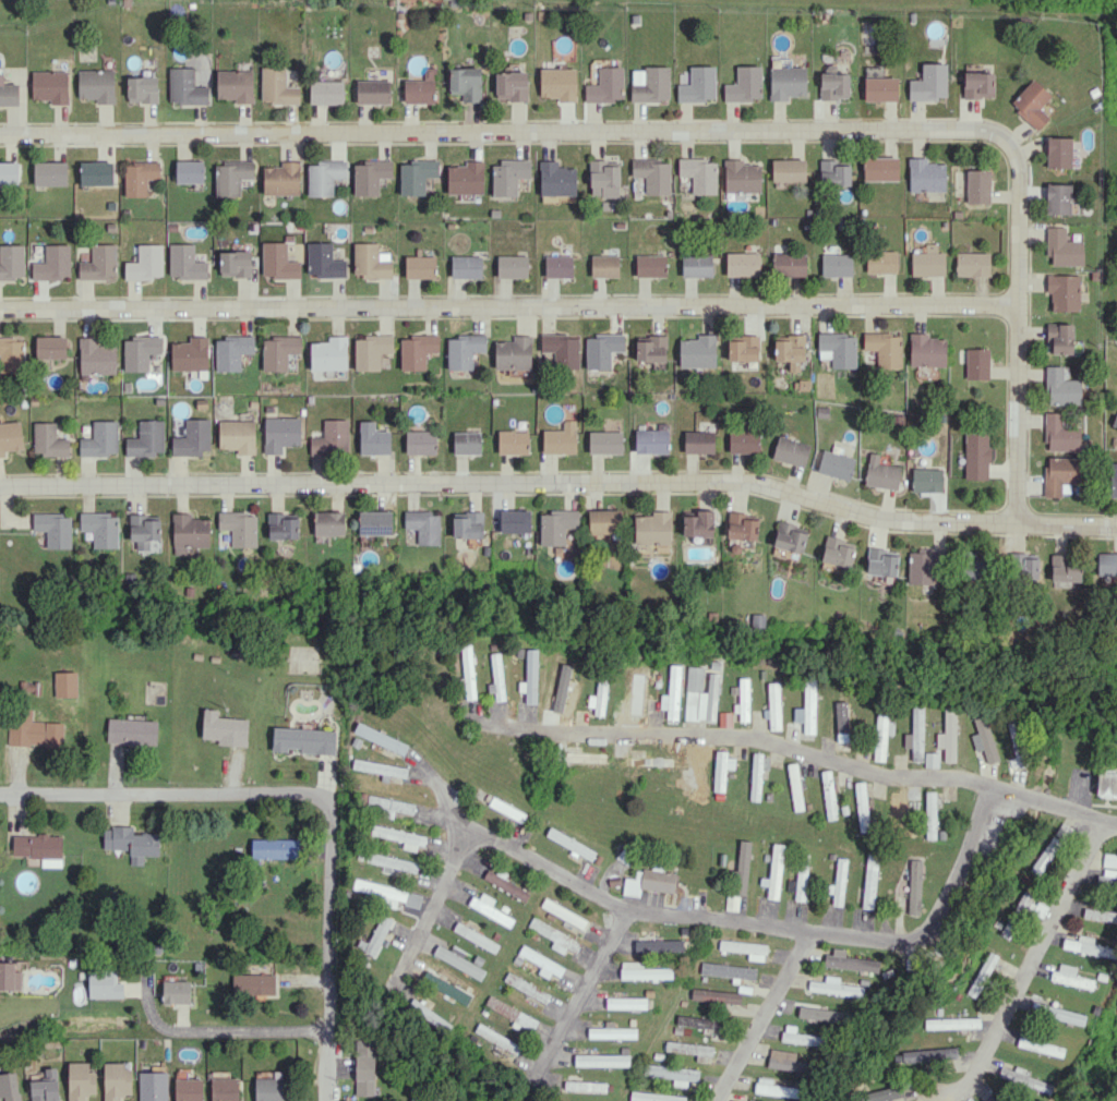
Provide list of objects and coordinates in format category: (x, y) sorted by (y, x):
building: (786, 80)
building: (466, 83)
building: (557, 83)
building: (929, 83)
building: (650, 84)
building: (977, 84)
building: (96, 85)
building: (235, 85)
building: (511, 85)
building: (605, 85)
building: (698, 85)
building: (744, 85)
building: (833, 85)
building: (50, 86)
building: (277, 86)
building: (185, 87)
building: (142, 88)
building: (420, 88)
building: (880, 88)
building: (326, 92)
building: (373, 92)
building: (8, 93)
building: (1031, 104)
road: (697, 128)
building: (1058, 152)
building: (879, 168)
building: (788, 170)
building: (189, 171)
building: (9, 172)
building: (96, 172)
building: (833, 172)
building: (50, 173)
building: (652, 174)
building: (699, 174)
building: (925, 174)
building: (370, 176)
building: (417, 176)
building: (742, 176)
building: (140, 177)
building: (231, 177)
building: (324, 177)
building: (508, 177)
building: (466, 178)
building: (603, 178)
building: (281, 179)
building: (556, 179)
building: (978, 185)
building: (1058, 198)
building: (496, 213)
building: (451, 225)
building: (1062, 249)
building: (324, 261)
building: (371, 261)
building: (880, 261)
building: (11, 262)
building: (278, 262)
building: (146, 263)
building: (185, 263)
building: (235, 263)
building: (53, 264)
building: (743, 264)
building: (790, 264)
building: (928, 264)
building: (972, 264)
building: (697, 265)
building: (837, 265)
building: (467, 266)
building: (513, 266)
building: (560, 266)
building: (605, 266)
building: (651, 266)
building: (419, 267)
building: (1062, 291)
road: (508, 307)
building: (1059, 338)
building: (50, 347)
building: (885, 348)
building: (651, 349)
building: (744, 349)
building: (838, 349)
building: (417, 350)
building: (464, 350)
building: (560, 350)
building: (601, 350)
building: (926, 350)
building: (231, 351)
building: (278, 351)
building: (372, 351)
building: (697, 351)
building: (791, 351)
building: (140, 352)
building: (328, 353)
building: (513, 353)
building: (12, 354)
building: (190, 354)
building: (96, 356)
building: (976, 363)
building: (1060, 387)
building: (822, 411)
building: (280, 433)
building: (1060, 433)
building: (10, 436)
building: (237, 436)
building: (332, 437)
building: (146, 438)
building: (192, 438)
building: (100, 439)
building: (373, 439)
building: (49, 440)
building: (651, 440)
building: (743, 440)
building: (420, 441)
building: (513, 441)
building: (560, 441)
building: (605, 441)
building: (699, 441)
building: (467, 443)
building: (791, 451)
building: (976, 455)
building: (836, 464)
building: (881, 473)
building: (1059, 473)
building: (927, 480)
road: (561, 482)
building: (1112, 485)
building: (515, 520)
building: (605, 521)
building: (328, 522)
building: (375, 522)
building: (698, 524)
building: (423, 525)
building: (468, 525)
building: (556, 525)
building: (742, 525)
building: (281, 527)
building: (239, 528)
building: (652, 528)
building: (55, 529)
building: (101, 529)
building: (145, 532)
building: (189, 532)
building: (790, 536)
building: (838, 552)
building: (881, 561)
building: (1106, 564)
building: (1025, 566)
building: (921, 567)
building: (974, 567)
building: (1065, 568)
building: (467, 672)
building: (496, 677)
building: (530, 677)
building: (65, 683)
building: (638, 693)
building: (672, 693)
building: (700, 695)
building: (566, 698)
building: (598, 698)
building: (742, 699)
building: (773, 705)
building: (808, 706)
building: (724, 718)
building: (844, 726)
building: (224, 728)
building: (33, 730)
building: (132, 731)
building: (915, 734)
building: (881, 735)
building: (947, 736)
building: (983, 737)
building: (380, 738)
building: (304, 740)
building: (1018, 745)
road: (793, 748)
building: (584, 755)
building: (694, 758)
building: (930, 760)
building: (649, 761)
building: (380, 767)
building: (719, 771)
building: (757, 774)
building: (1106, 785)
building: (794, 786)
road: (317, 793)
building: (828, 795)
building: (387, 806)
building: (897, 806)
building: (861, 807)
building: (506, 809)
building: (930, 816)
road: (1112, 821)
building: (400, 836)
building: (131, 843)
building: (569, 843)
building: (39, 848)
building: (274, 848)
building: (1047, 852)
building: (392, 861)
building: (742, 867)
building: (1108, 870)
building: (774, 871)
building: (801, 876)
building: (869, 881)
building: (649, 882)
building: (838, 883)
building: (505, 885)
building: (914, 886)
building: (386, 893)
road: (604, 896)
building: (1026, 903)
road: (430, 905)
building: (490, 909)
building: (1100, 915)
road: (936, 916)
building: (377, 934)
building: (476, 936)
building: (555, 936)
building: (658, 945)
building: (1086, 946)
building: (746, 948)
building: (458, 960)
building: (539, 961)
building: (850, 961)
building: (728, 970)
road: (1026, 970)
building: (642, 971)
building: (982, 975)
building: (9, 977)
building: (1070, 977)
building: (104, 983)
building: (254, 984)
road: (585, 985)
building: (833, 987)
building: (176, 992)
building: (716, 995)
building: (625, 1002)
building: (425, 1013)
building: (821, 1013)
building: (1057, 1013)
building: (513, 1015)
road: (761, 1016)
building: (699, 1021)
building: (952, 1023)
road: (244, 1029)
building: (611, 1031)
building: (800, 1037)
building: (496, 1038)
building: (1040, 1045)
building: (690, 1050)
building: (925, 1054)
building: (601, 1060)
building: (788, 1061)
building: (364, 1066)
building: (676, 1074)
building: (80, 1080)
building: (116, 1081)
building: (1024, 1081)
building: (9, 1086)
building: (153, 1086)
building: (268, 1086)
building: (585, 1086)
building: (45, 1087)
building: (776, 1088)
building: (188, 1089)
building: (224, 1089)
building: (881, 1094)
building: (656, 1097)
building: (420, 1098)
building: (756, 1100)

